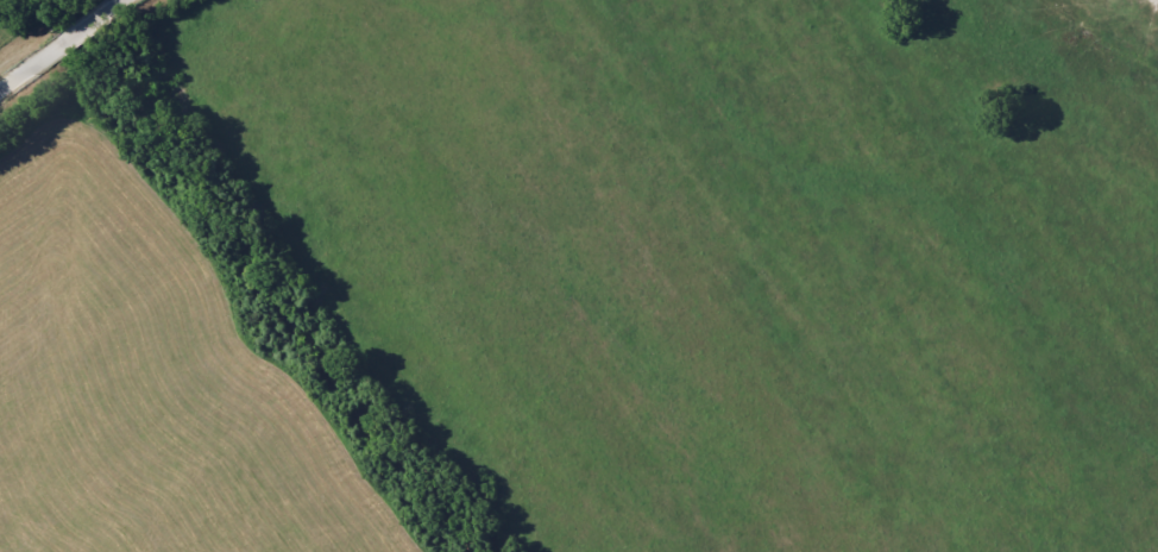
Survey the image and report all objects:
road: (63, 46)

